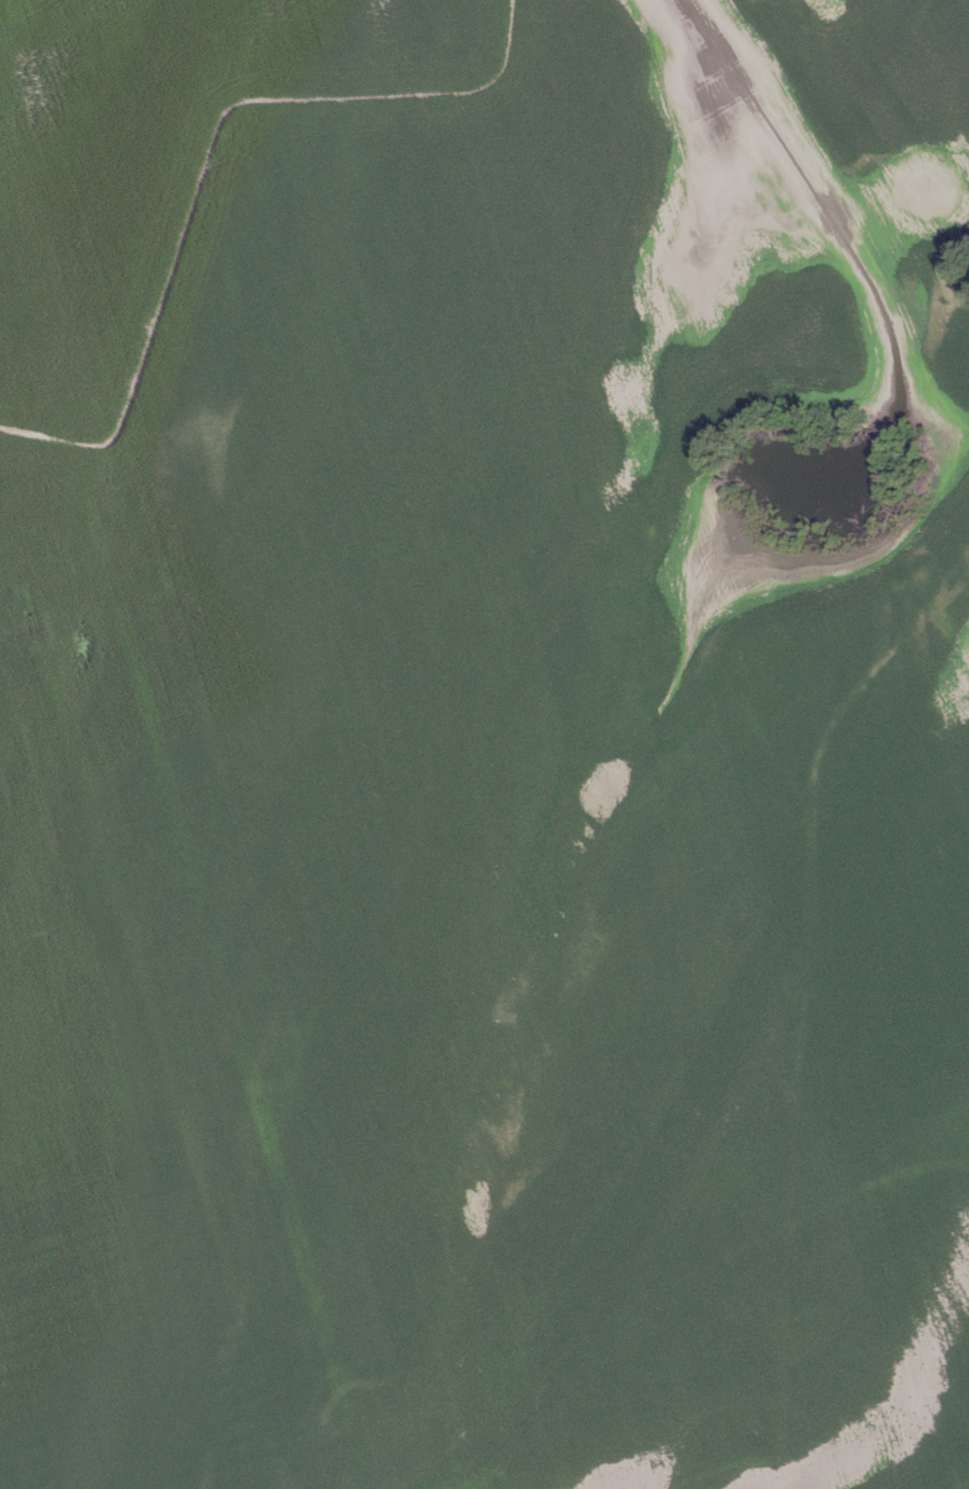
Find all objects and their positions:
crop: (478, 749)
road: (151, 1032)

